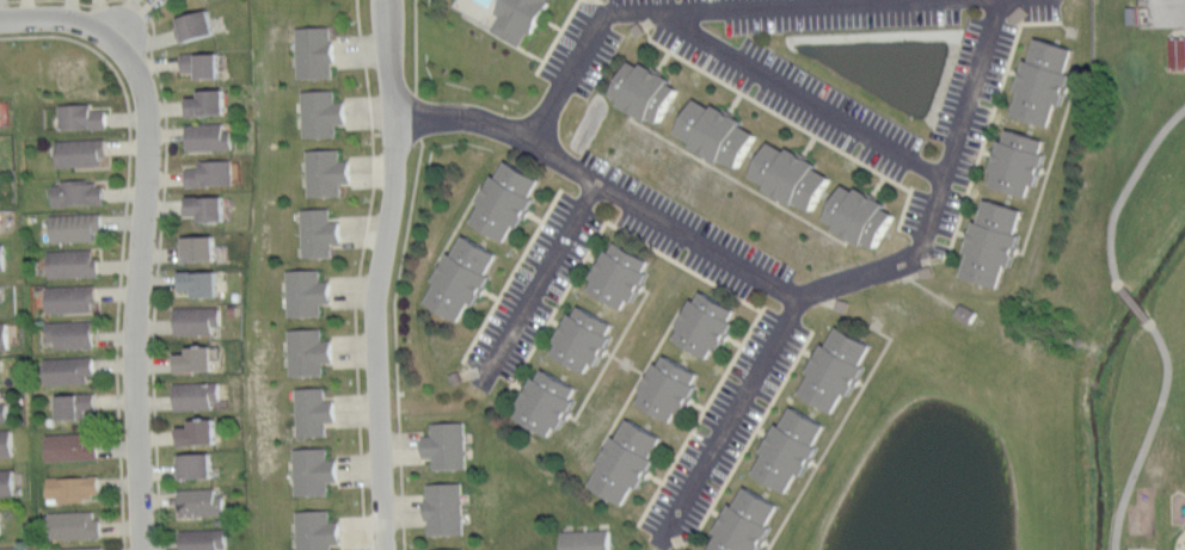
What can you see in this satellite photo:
building: (168, 0)
road: (87, 4)
road: (602, 4)
road: (673, 6)
building: (1018, 13)
road: (60, 17)
building: (520, 17)
building: (191, 21)
building: (638, 29)
road: (560, 30)
road: (508, 41)
building: (315, 51)
road: (663, 60)
building: (197, 61)
road: (416, 69)
road: (1014, 72)
building: (1044, 81)
road: (976, 85)
road: (806, 88)
building: (646, 91)
building: (203, 100)
road: (735, 100)
building: (323, 113)
road: (779, 113)
building: (81, 116)
road: (991, 117)
building: (716, 131)
building: (204, 134)
road: (809, 144)
building: (81, 152)
road: (987, 152)
road: (704, 156)
building: (1018, 162)
road: (1044, 169)
building: (207, 171)
building: (326, 172)
road: (1046, 172)
building: (791, 174)
road: (738, 180)
road: (878, 184)
building: (79, 192)
building: (506, 199)
road: (776, 199)
building: (202, 205)
road: (904, 206)
building: (860, 214)
road: (536, 217)
road: (459, 222)
road: (601, 225)
building: (75, 227)
building: (319, 231)
road: (962, 233)
road: (696, 236)
building: (993, 241)
road: (122, 245)
building: (194, 246)
building: (2, 257)
road: (592, 258)
building: (72, 264)
road: (156, 266)
building: (927, 271)
road: (358, 273)
road: (510, 273)
building: (624, 273)
road: (379, 274)
road: (910, 274)
building: (463, 276)
road: (542, 276)
building: (195, 279)
road: (136, 290)
building: (306, 292)
road: (933, 292)
road: (491, 295)
building: (72, 298)
building: (0, 299)
building: (842, 304)
building: (965, 313)
building: (197, 319)
road: (1148, 319)
road: (554, 321)
building: (705, 325)
building: (70, 333)
building: (4, 335)
building: (584, 339)
road: (735, 340)
road: (395, 342)
building: (308, 352)
road: (809, 352)
road: (610, 353)
building: (196, 358)
road: (627, 363)
building: (68, 369)
building: (837, 369)
building: (0, 375)
building: (456, 377)
road: (639, 377)
road: (861, 383)
road: (517, 385)
building: (669, 388)
building: (196, 396)
building: (548, 401)
road: (698, 404)
building: (76, 406)
road: (731, 408)
building: (4, 410)
building: (314, 410)
road: (700, 416)
building: (198, 432)
road: (762, 432)
road: (835, 433)
road: (751, 434)
building: (6, 441)
building: (447, 444)
building: (73, 446)
building: (788, 450)
building: (628, 461)
road: (816, 463)
building: (196, 465)
building: (313, 469)
park: (1138, 477)
road: (656, 478)
building: (7, 481)
building: (74, 487)
building: (201, 501)
building: (446, 506)
road: (716, 512)
building: (747, 523)
building: (74, 524)
building: (0, 525)
building: (317, 530)
building: (202, 538)
building: (585, 539)
road: (769, 543)
building: (80, 546)
park: (1141, 548)
building: (8, 549)
building: (449, 549)
building: (682, 549)

